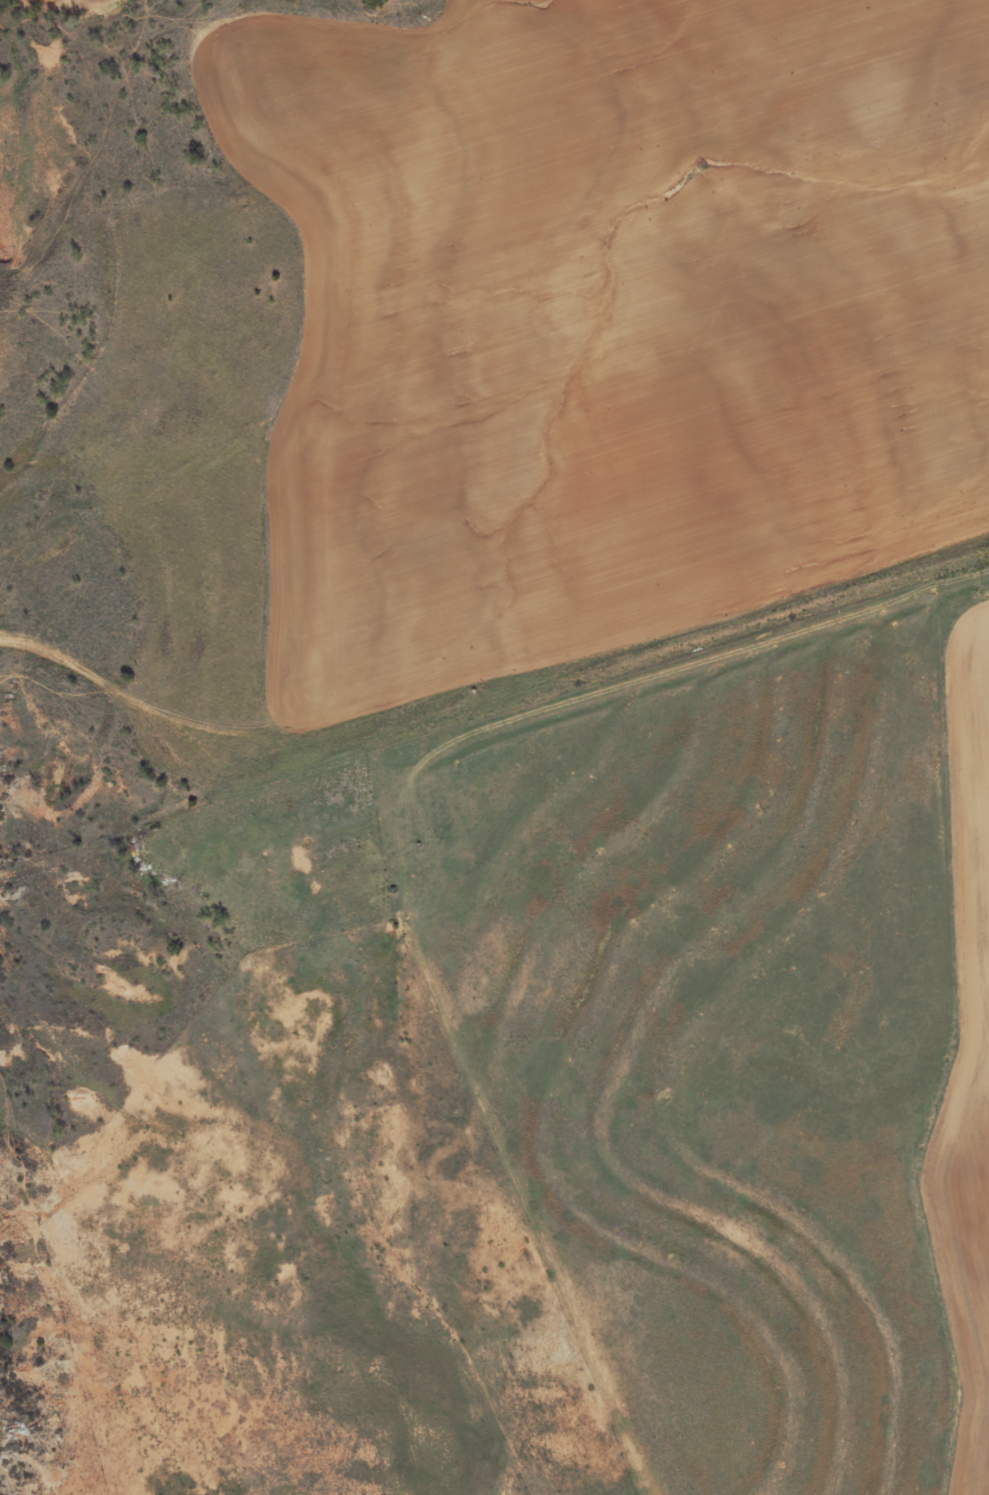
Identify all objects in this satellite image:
road: (111, 104)
road: (481, 655)
road: (659, 681)
building: (353, 853)

